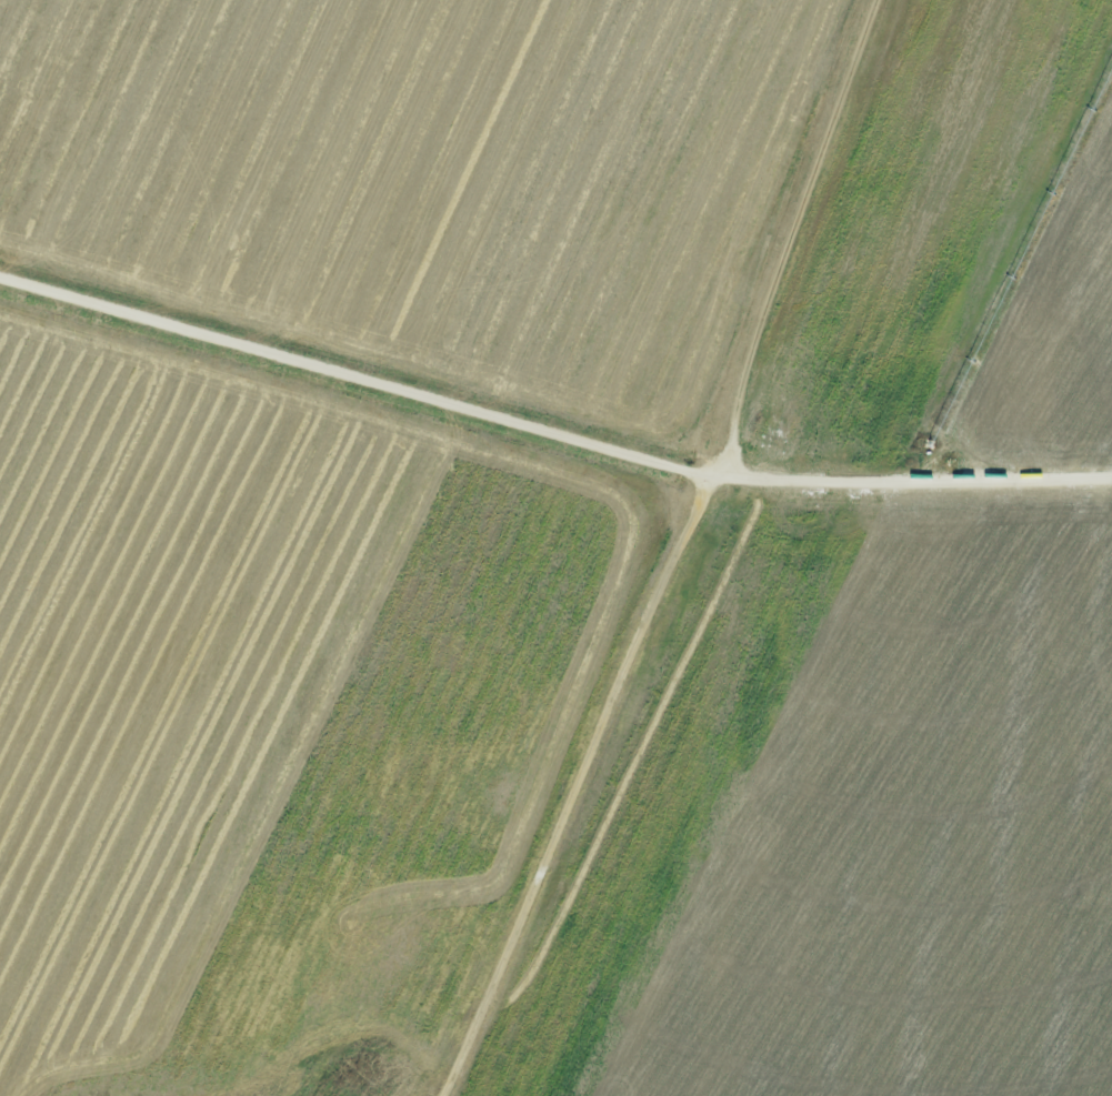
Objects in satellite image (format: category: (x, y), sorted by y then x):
road: (351, 370)

